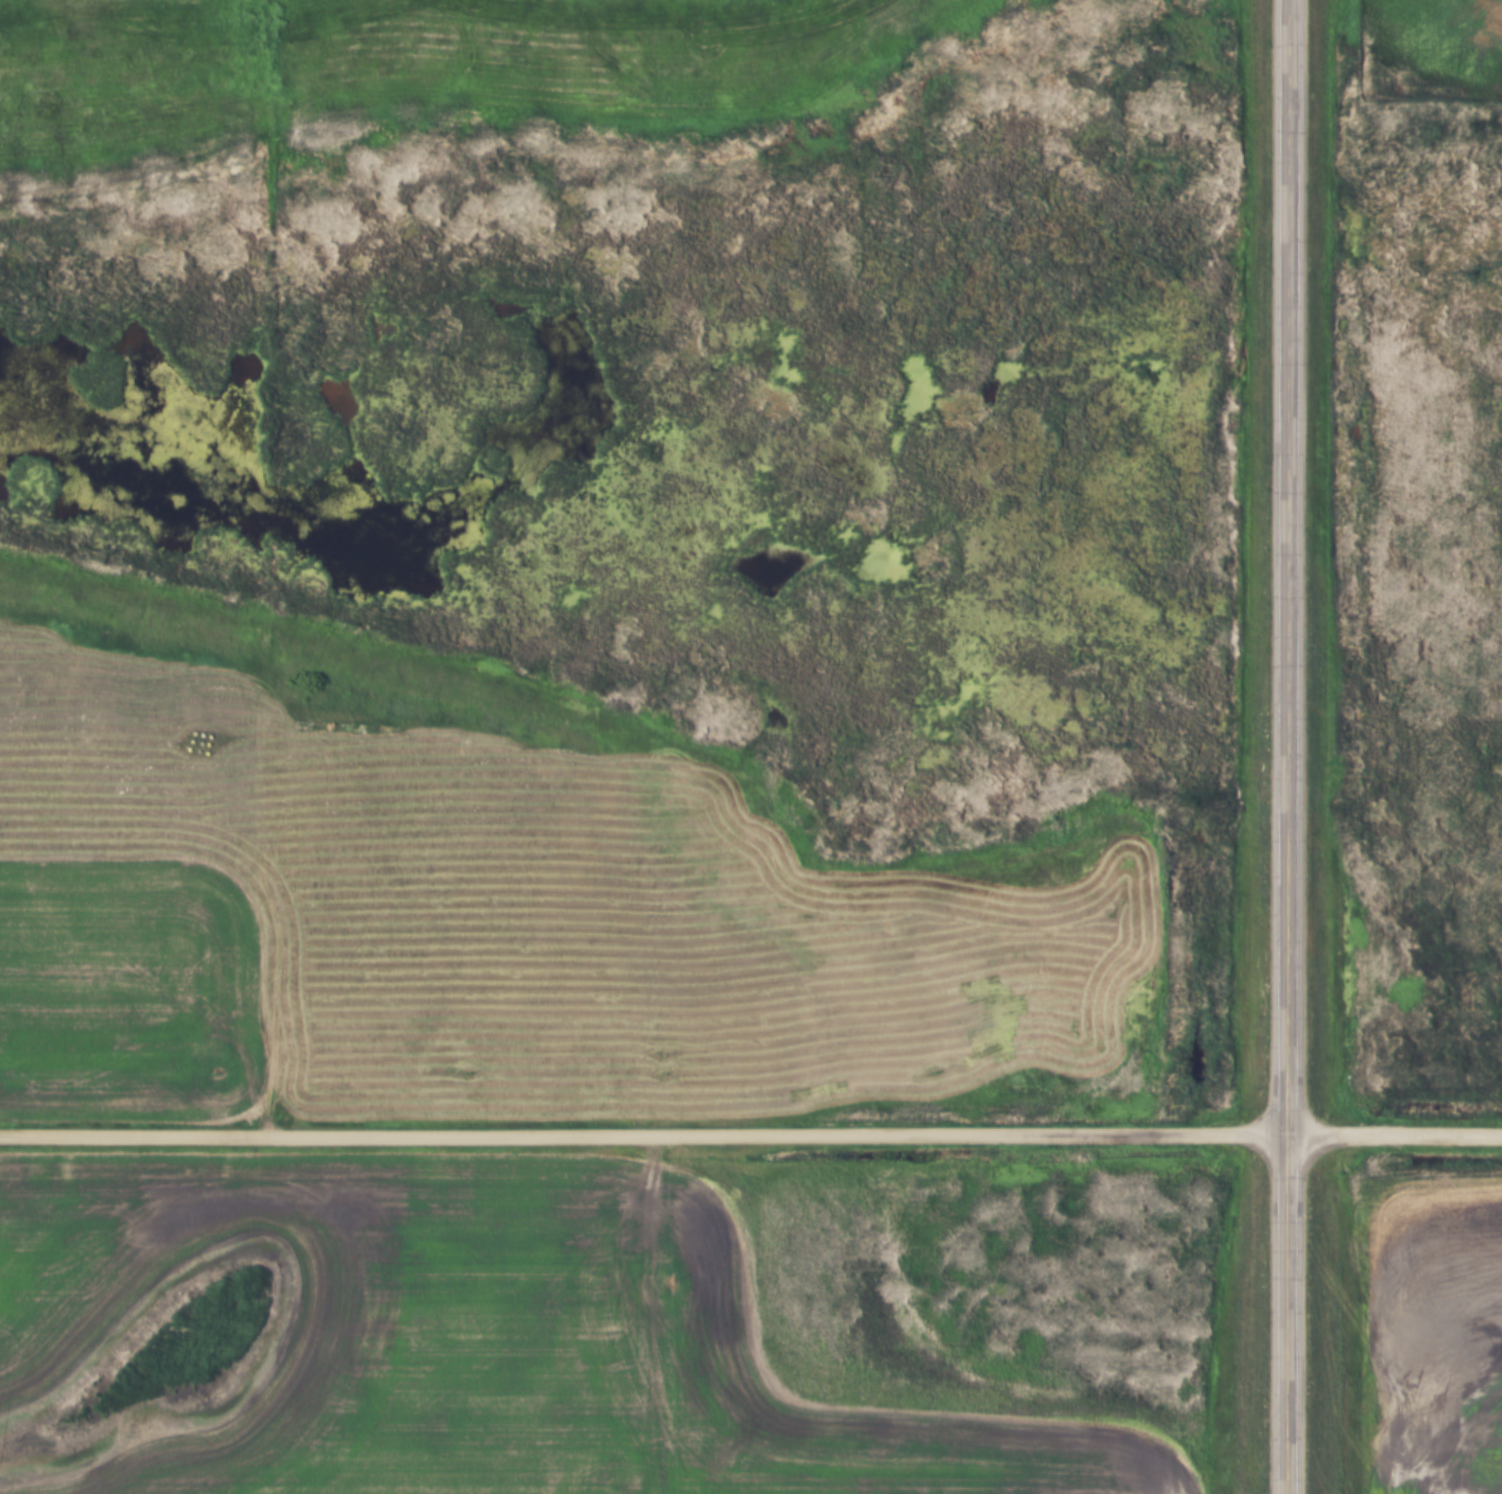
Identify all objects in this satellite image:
road: (1287, 746)
road: (751, 1131)

